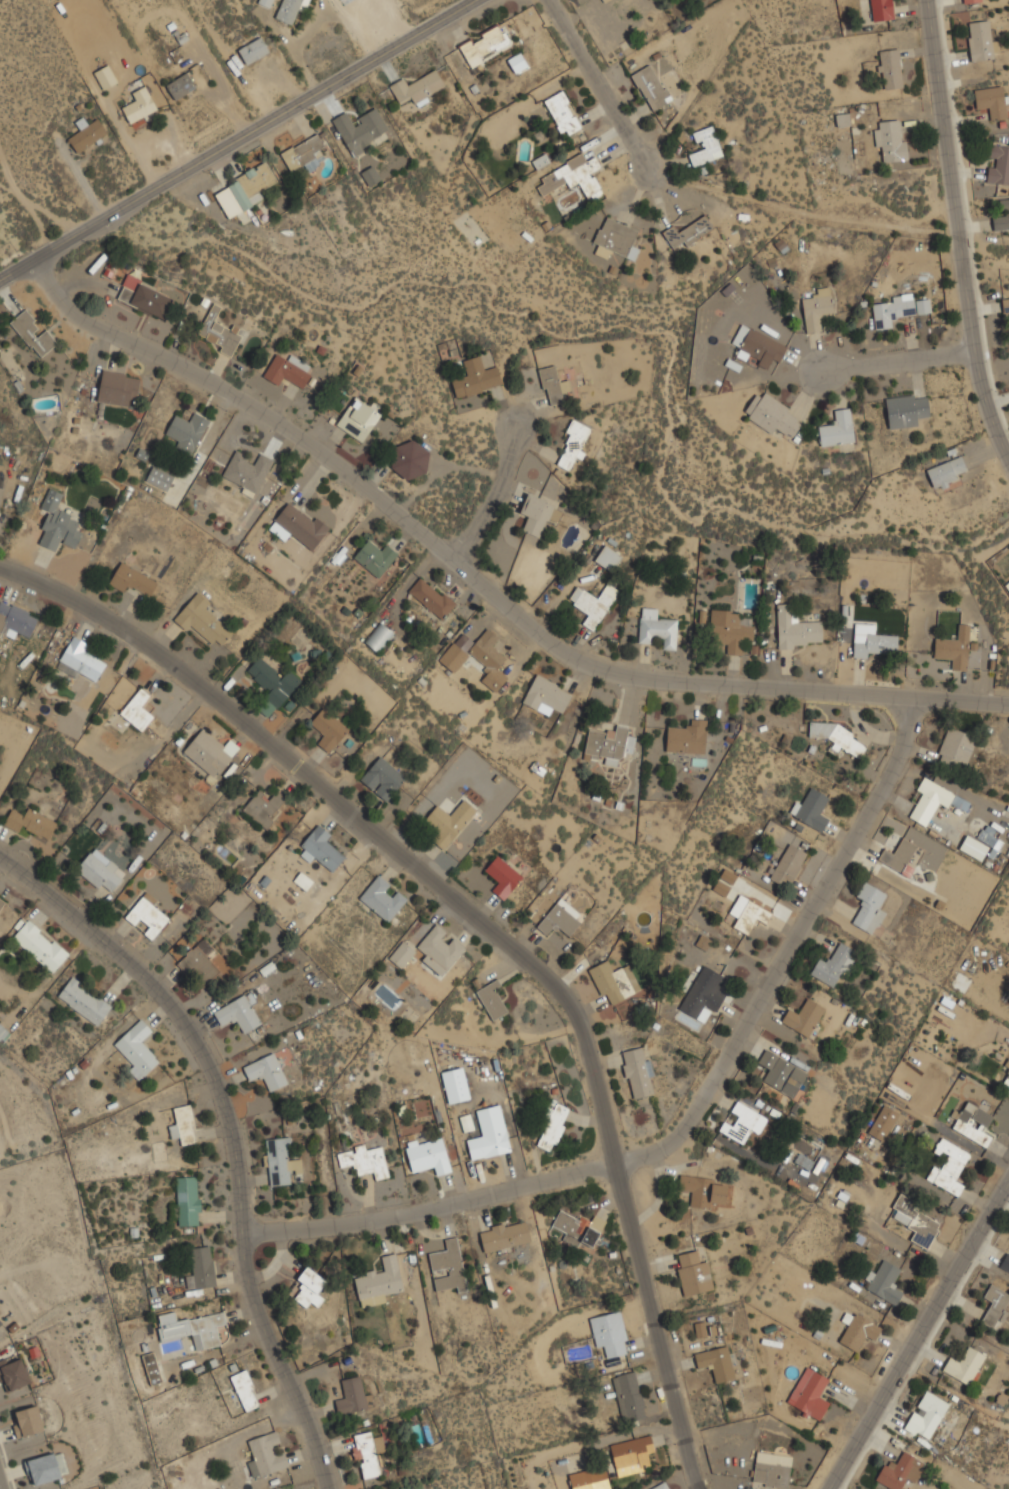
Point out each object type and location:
building: (970, 0)
building: (265, 2)
building: (291, 9)
building: (883, 9)
building: (982, 40)
building: (484, 44)
building: (254, 49)
building: (518, 61)
building: (891, 68)
building: (106, 76)
road: (598, 84)
building: (181, 85)
building: (418, 87)
building: (652, 87)
building: (993, 101)
building: (140, 104)
building: (564, 113)
building: (842, 119)
building: (362, 128)
building: (87, 133)
building: (891, 139)
road: (235, 140)
building: (706, 146)
building: (305, 153)
building: (998, 164)
building: (370, 175)
building: (572, 176)
building: (245, 189)
building: (1002, 217)
building: (689, 231)
road: (956, 233)
building: (617, 237)
building: (145, 297)
building: (1005, 304)
building: (819, 307)
building: (898, 309)
building: (220, 331)
building: (34, 332)
building: (759, 346)
road: (896, 360)
building: (289, 370)
building: (477, 377)
building: (553, 385)
building: (119, 387)
building: (907, 409)
building: (773, 414)
building: (359, 419)
building: (838, 428)
building: (187, 431)
building: (573, 445)
building: (410, 460)
building: (247, 471)
building: (948, 471)
building: (160, 478)
road: (492, 494)
building: (540, 513)
building: (58, 523)
building: (298, 525)
building: (375, 557)
building: (608, 558)
building: (133, 579)
road: (482, 583)
building: (432, 597)
building: (593, 603)
building: (203, 619)
building: (17, 620)
building: (657, 628)
building: (797, 628)
building: (730, 630)
building: (379, 637)
building: (872, 640)
building: (956, 647)
building: (480, 658)
building: (82, 659)
building: (67, 668)
building: (273, 685)
building: (546, 695)
building: (139, 709)
building: (328, 729)
building: (836, 736)
building: (688, 737)
building: (609, 744)
building: (955, 750)
building: (210, 752)
building: (383, 778)
building: (934, 801)
building: (264, 807)
building: (812, 808)
building: (32, 822)
building: (449, 822)
building: (981, 843)
building: (321, 849)
building: (899, 855)
building: (789, 865)
building: (101, 870)
building: (503, 877)
building: (303, 880)
building: (724, 882)
building: (383, 898)
building: (1, 906)
building: (869, 908)
building: (748, 913)
building: (148, 916)
building: (559, 921)
road: (490, 930)
building: (704, 942)
building: (40, 945)
building: (440, 949)
building: (402, 954)
building: (201, 963)
building: (834, 965)
building: (611, 982)
building: (705, 992)
building: (492, 999)
building: (84, 1001)
building: (238, 1013)
building: (804, 1017)
building: (3, 1033)
building: (138, 1047)
building: (1007, 1064)
building: (267, 1071)
building: (639, 1072)
building: (782, 1074)
building: (1006, 1080)
road: (689, 1115)
building: (743, 1122)
building: (885, 1123)
building: (975, 1123)
building: (185, 1125)
building: (554, 1127)
road: (232, 1136)
building: (489, 1144)
building: (429, 1155)
building: (364, 1160)
building: (280, 1161)
building: (950, 1167)
building: (704, 1190)
building: (188, 1200)
building: (916, 1221)
building: (579, 1228)
building: (505, 1235)
building: (1005, 1262)
building: (449, 1266)
building: (202, 1268)
building: (694, 1273)
building: (379, 1281)
building: (885, 1281)
building: (310, 1287)
building: (995, 1305)
building: (1, 1321)
building: (192, 1328)
building: (858, 1330)
building: (610, 1333)
road: (919, 1335)
building: (717, 1362)
building: (965, 1365)
building: (153, 1368)
building: (13, 1373)
building: (246, 1390)
building: (810, 1393)
building: (632, 1395)
building: (353, 1396)
building: (927, 1415)
building: (27, 1421)
building: (367, 1454)
building: (264, 1456)
building: (631, 1457)
building: (43, 1468)
building: (772, 1469)
building: (900, 1471)
building: (581, 1480)
building: (662, 1486)

